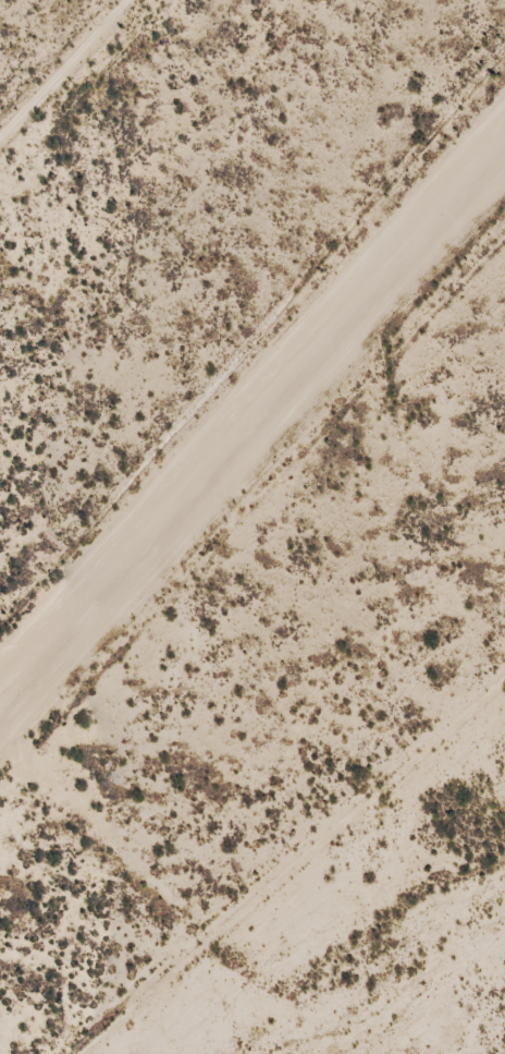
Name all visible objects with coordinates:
road: (64, 72)
airport runway: (253, 409)
road: (306, 861)
road: (235, 914)

